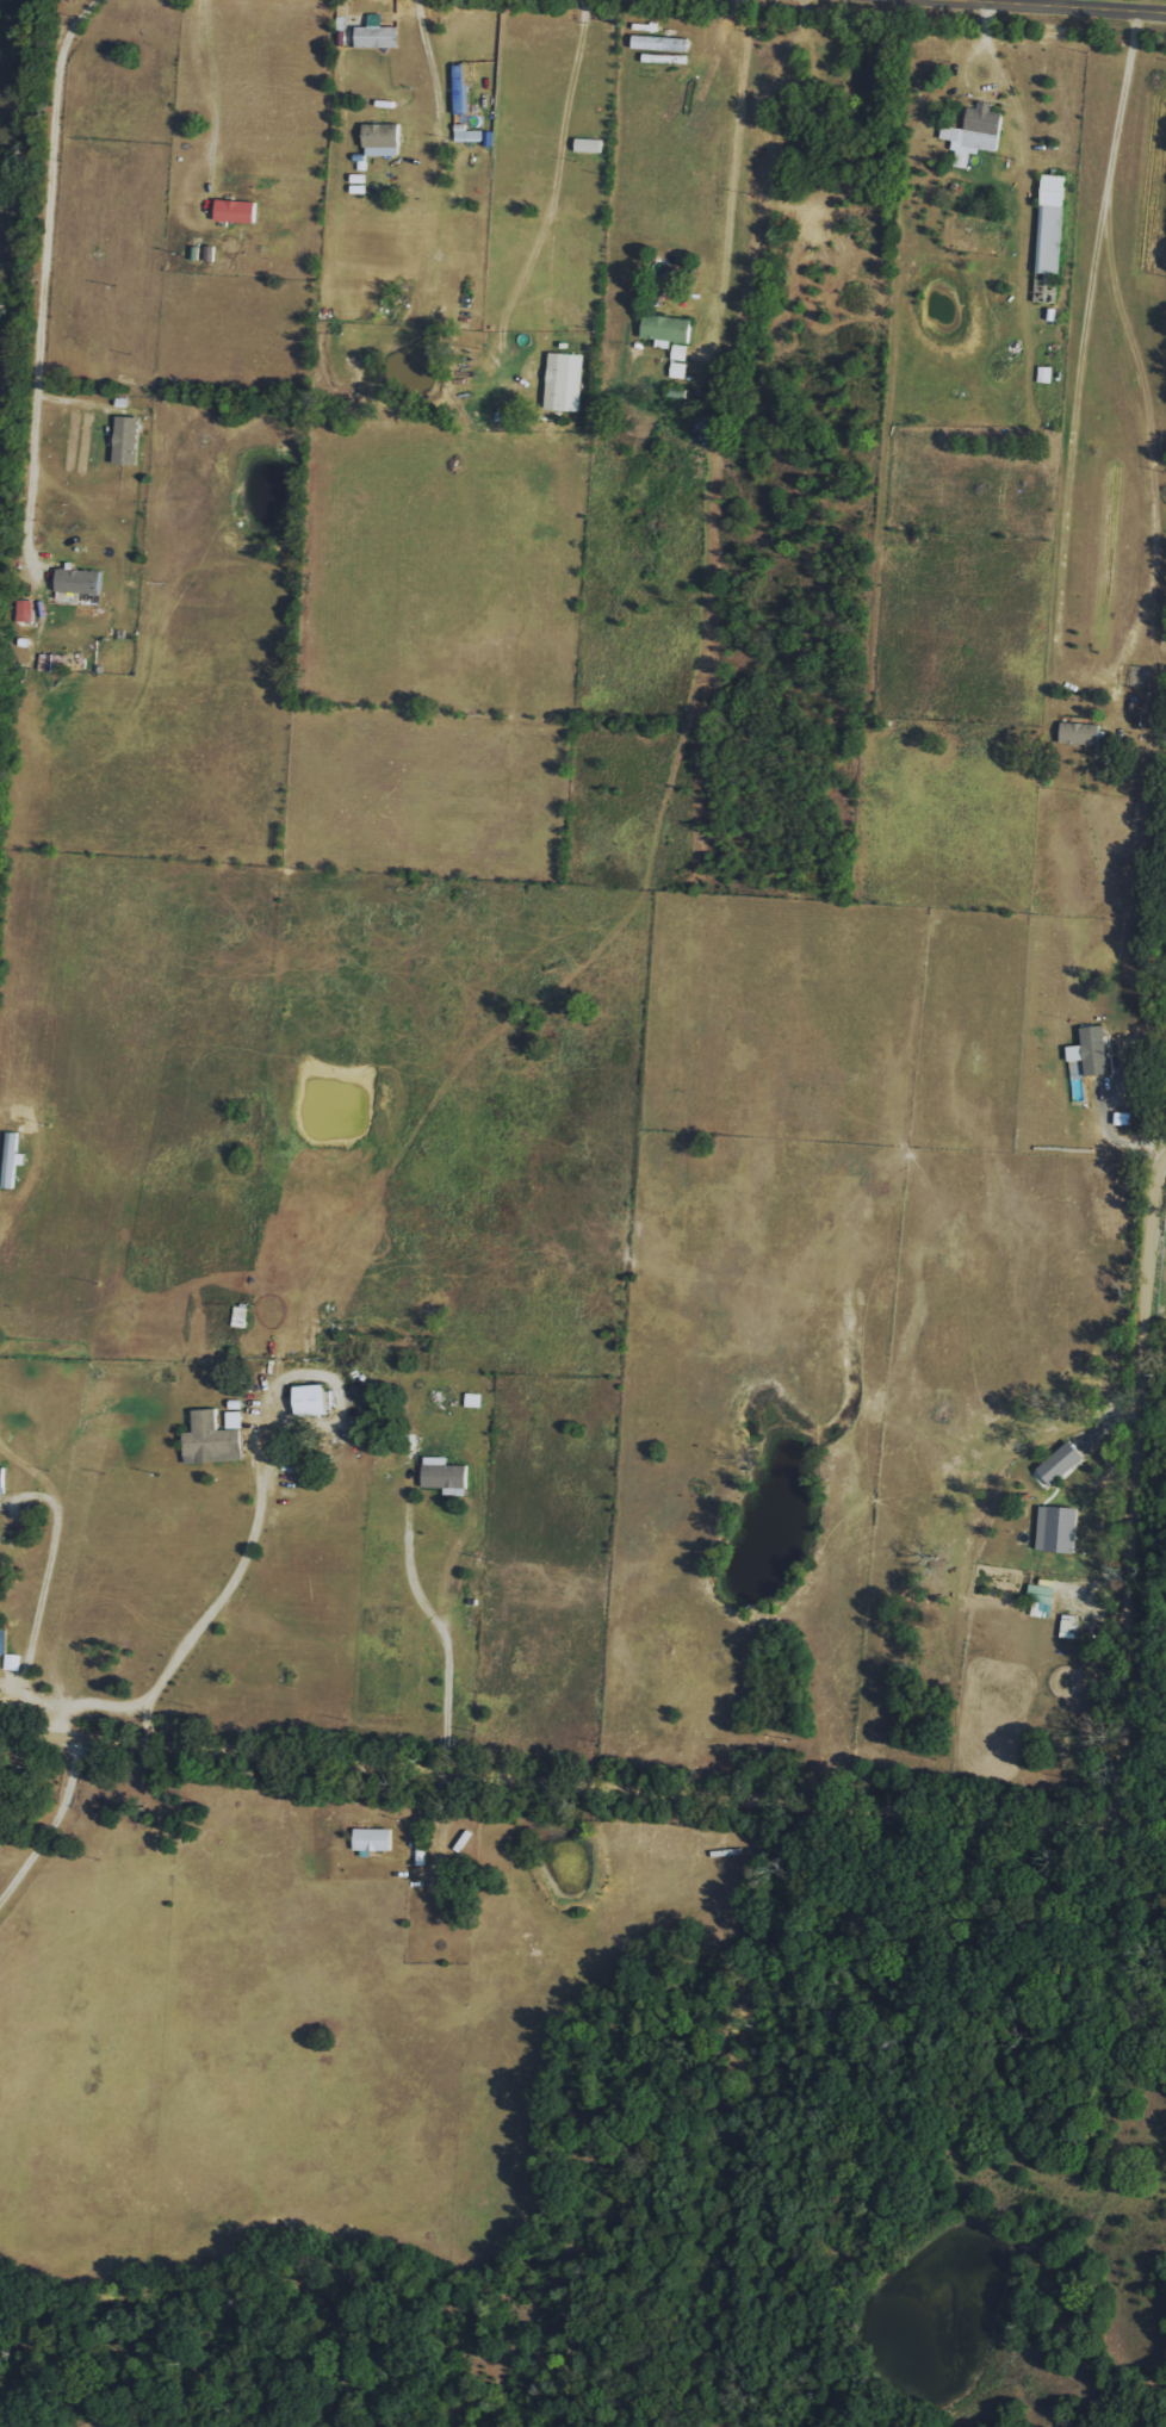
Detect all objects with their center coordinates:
road: (1059, 6)
building: (377, 37)
building: (662, 37)
road: (432, 62)
road: (210, 92)
building: (974, 134)
building: (382, 139)
building: (588, 145)
road: (736, 175)
road: (557, 188)
building: (236, 211)
building: (1050, 224)
road: (41, 281)
building: (666, 329)
building: (680, 353)
building: (678, 371)
building: (564, 383)
building: (125, 441)
building: (79, 582)
road: (1066, 598)
building: (25, 610)
building: (58, 663)
building: (1079, 734)
building: (1094, 1050)
building: (1122, 1118)
road: (1120, 1123)
building: (311, 1399)
building: (473, 1401)
building: (234, 1420)
building: (211, 1440)
building: (1060, 1463)
building: (442, 1473)
building: (1, 1481)
building: (1104, 1484)
building: (1056, 1528)
road: (244, 1566)
road: (46, 1585)
building: (1041, 1594)
road: (448, 1631)
road: (839, 1815)
road: (64, 1824)
building: (373, 1839)

